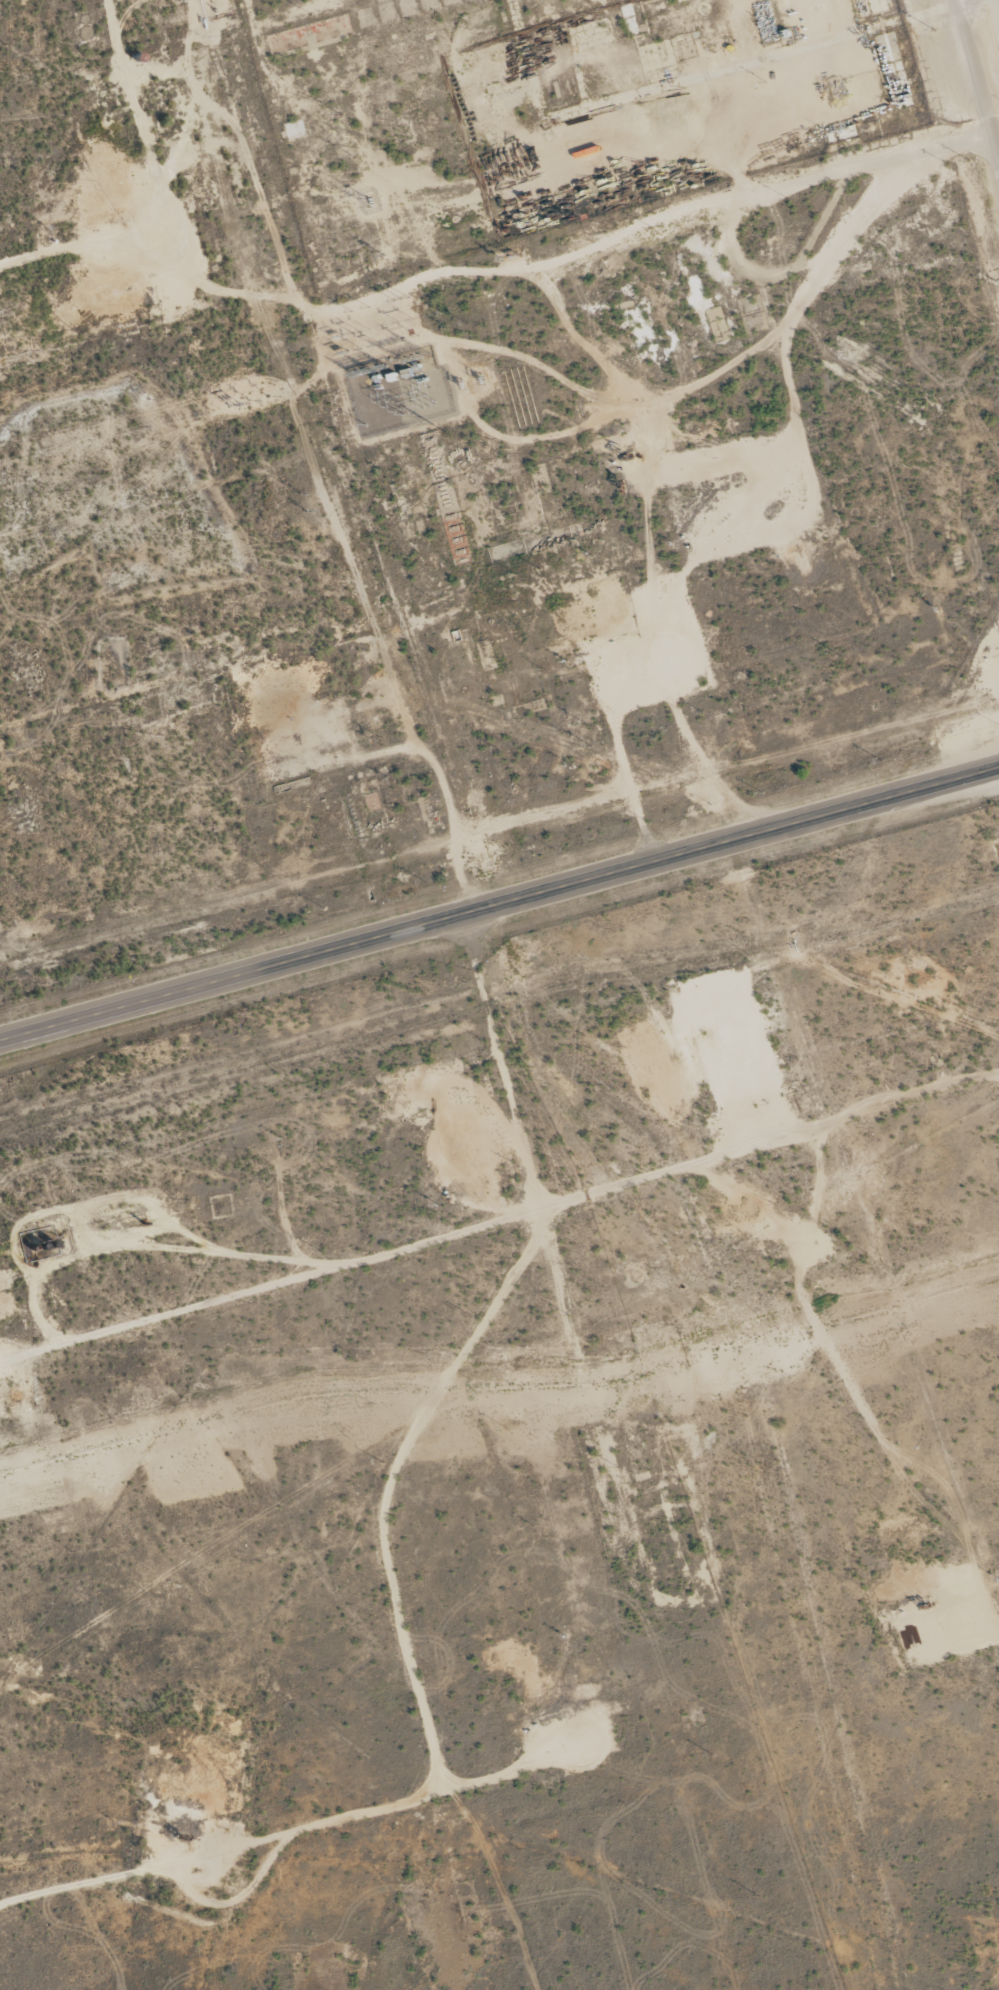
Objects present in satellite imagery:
road: (973, 89)
power substation: (397, 393)
power tower: (431, 426)
power tower: (152, 497)
road: (498, 899)

